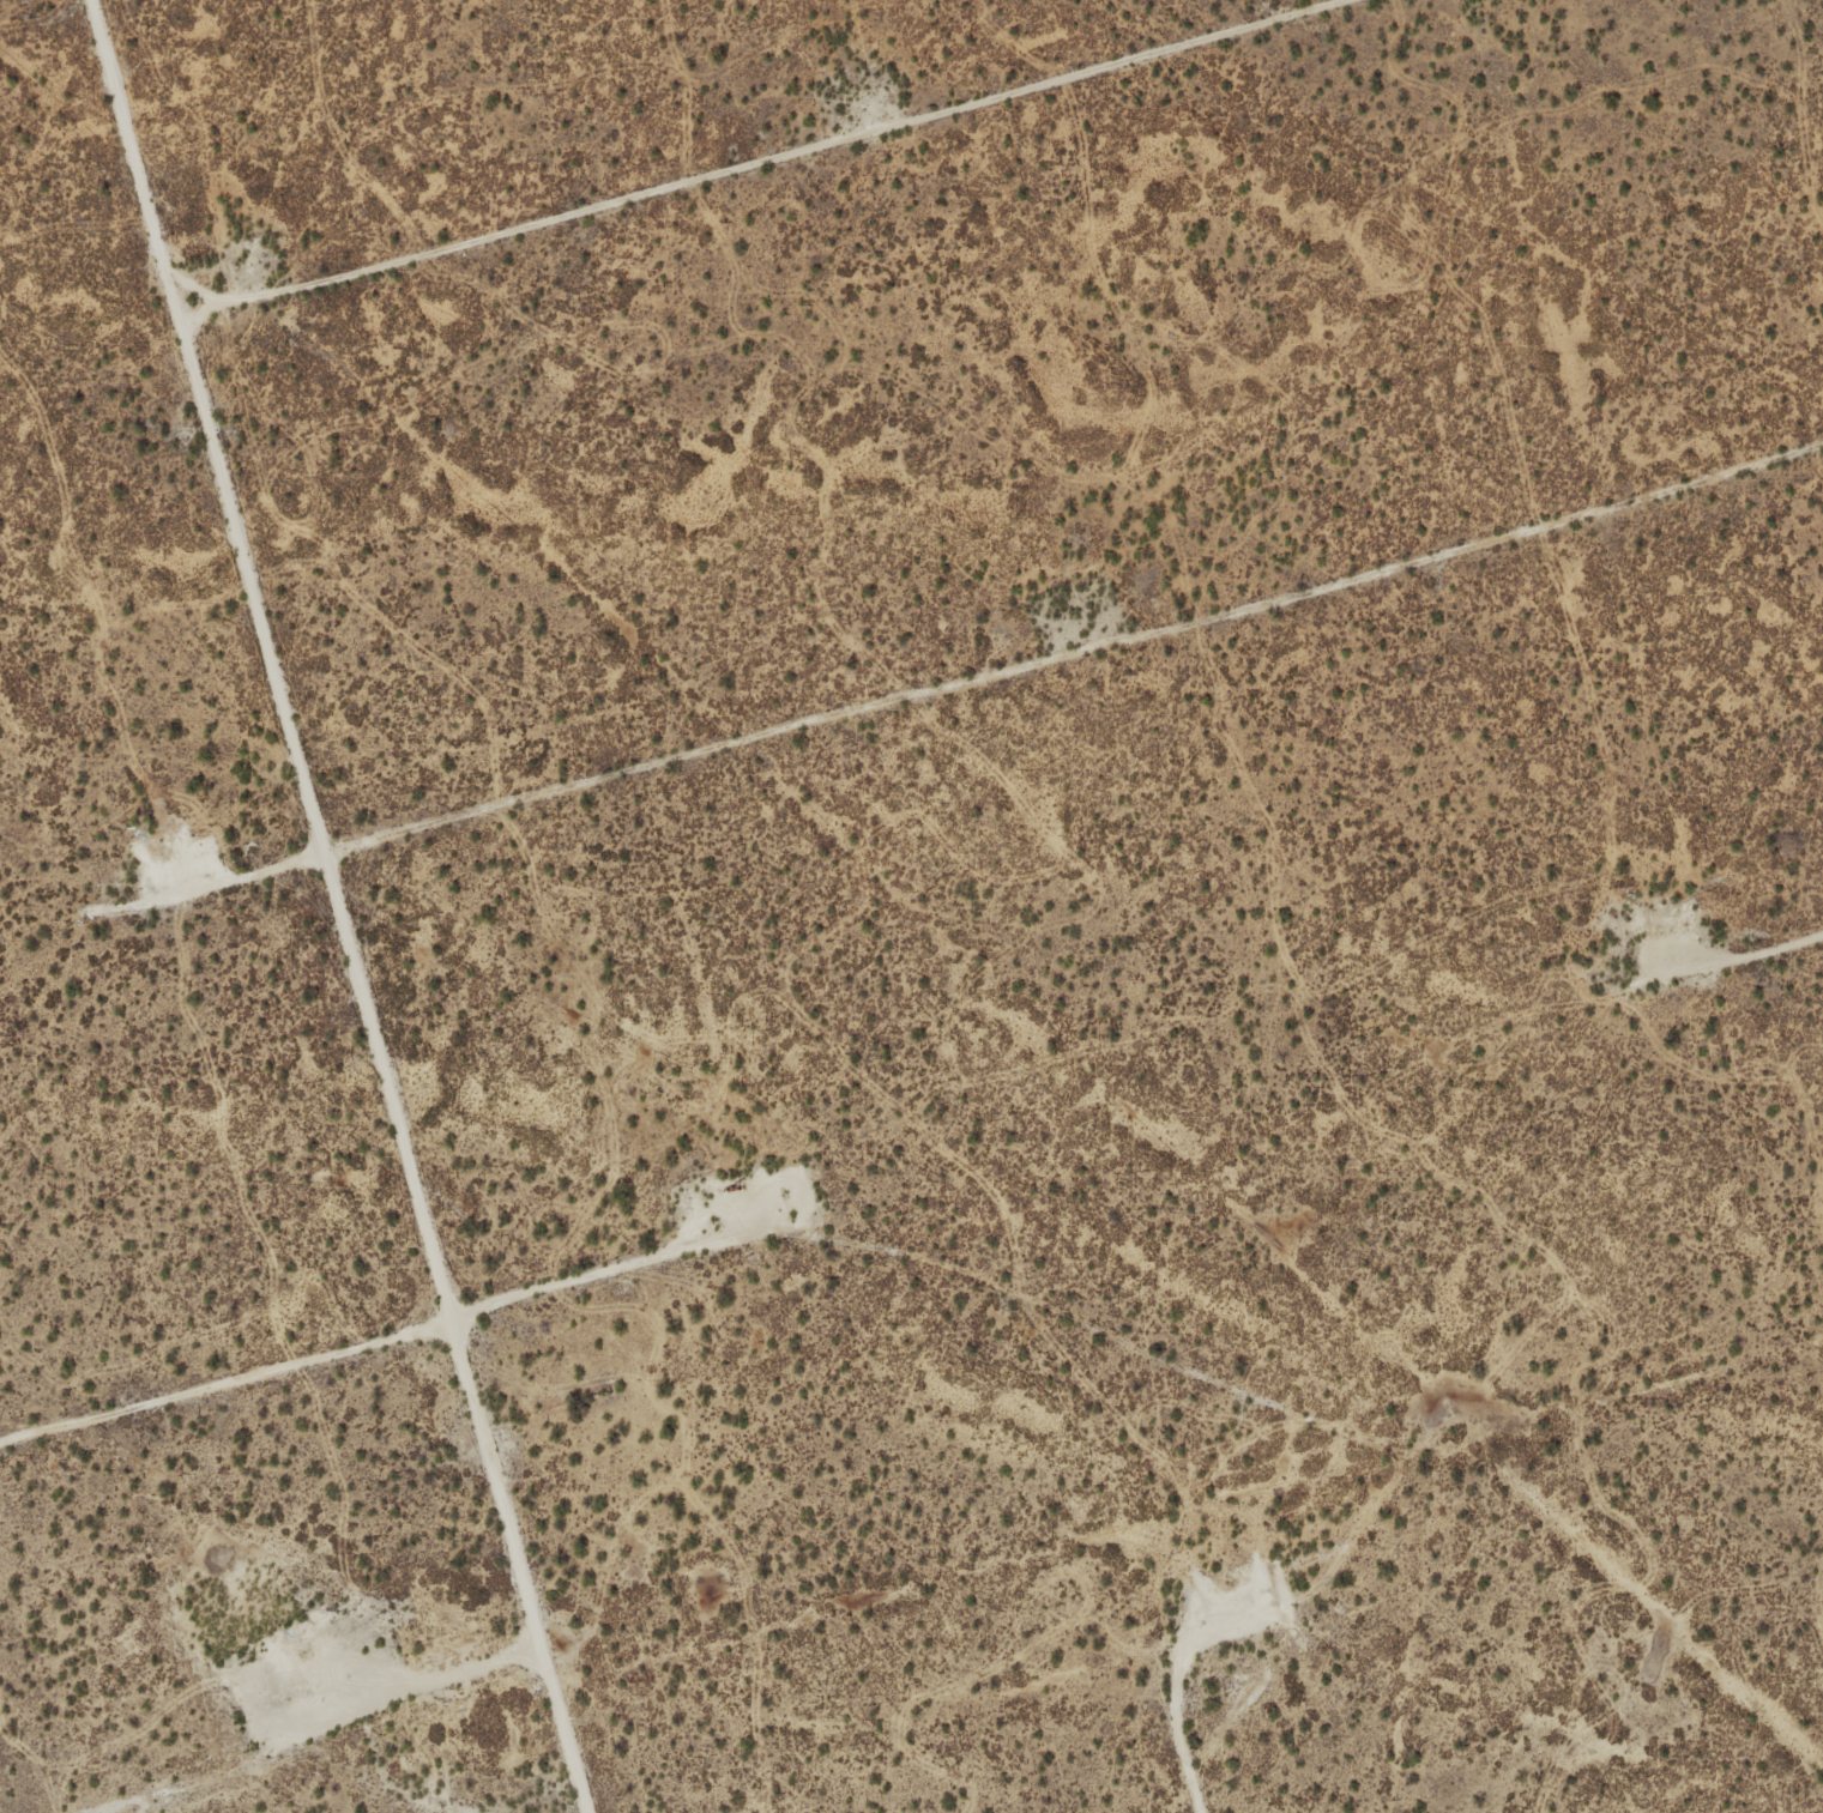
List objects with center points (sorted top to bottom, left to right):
road: (767, 164)
road: (1082, 655)
road: (351, 904)
road: (1734, 965)
road: (719, 1246)
road: (1173, 1678)

